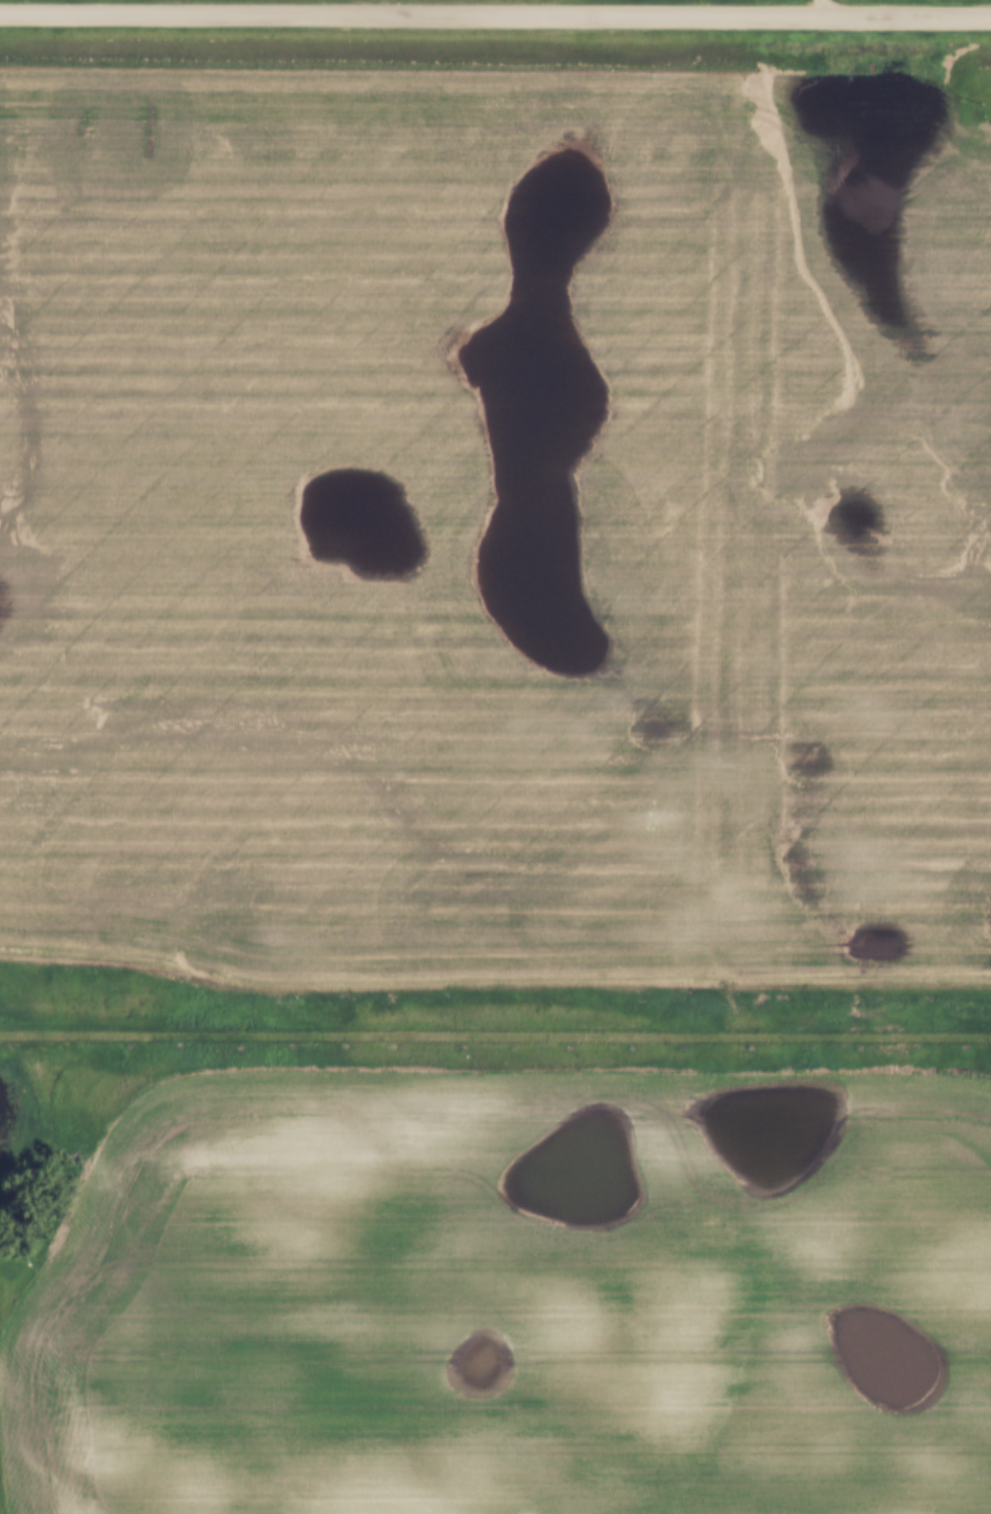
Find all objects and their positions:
road: (831, 10)
road: (495, 17)

